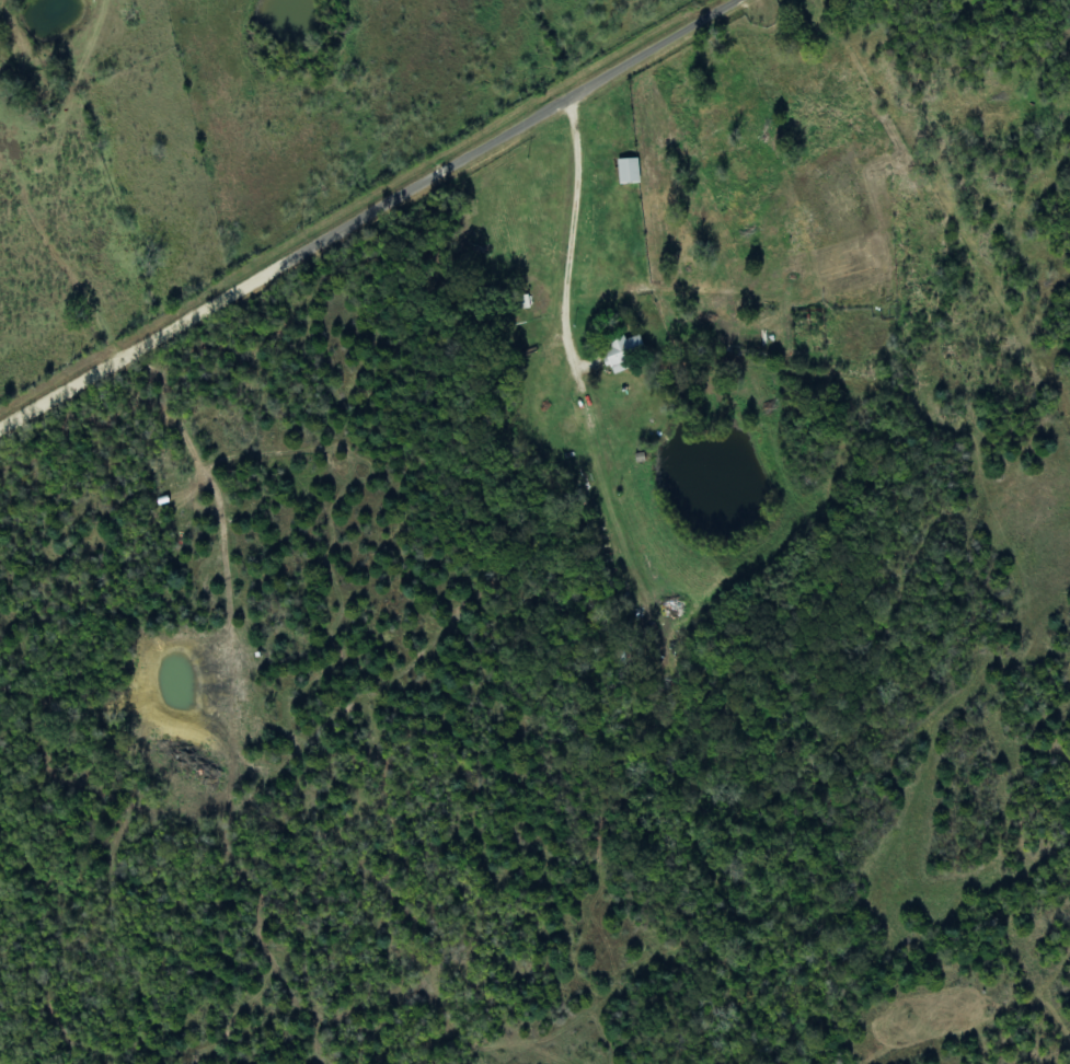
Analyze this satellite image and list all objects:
building: (630, 171)
road: (372, 217)
building: (624, 351)

